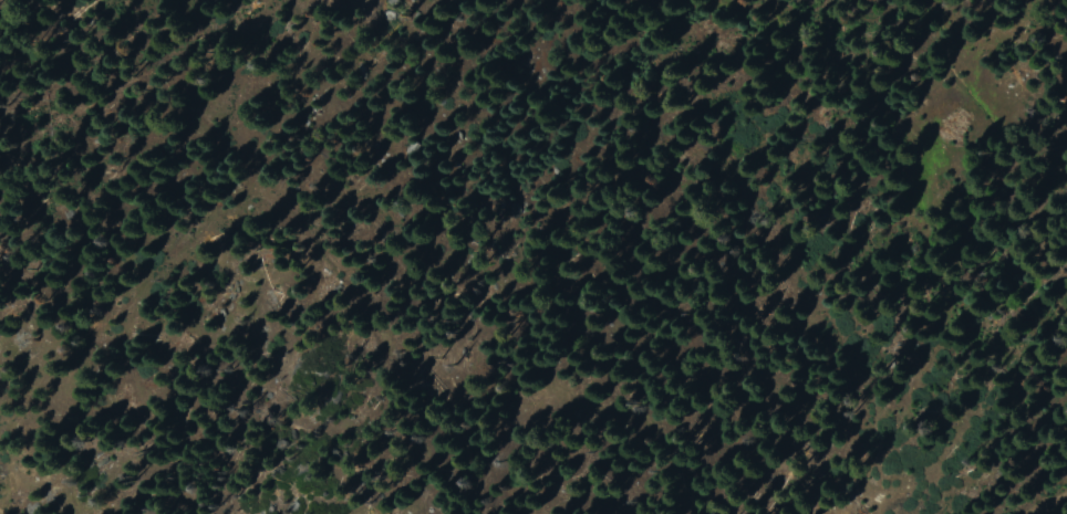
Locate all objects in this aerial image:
road: (1030, 493)

